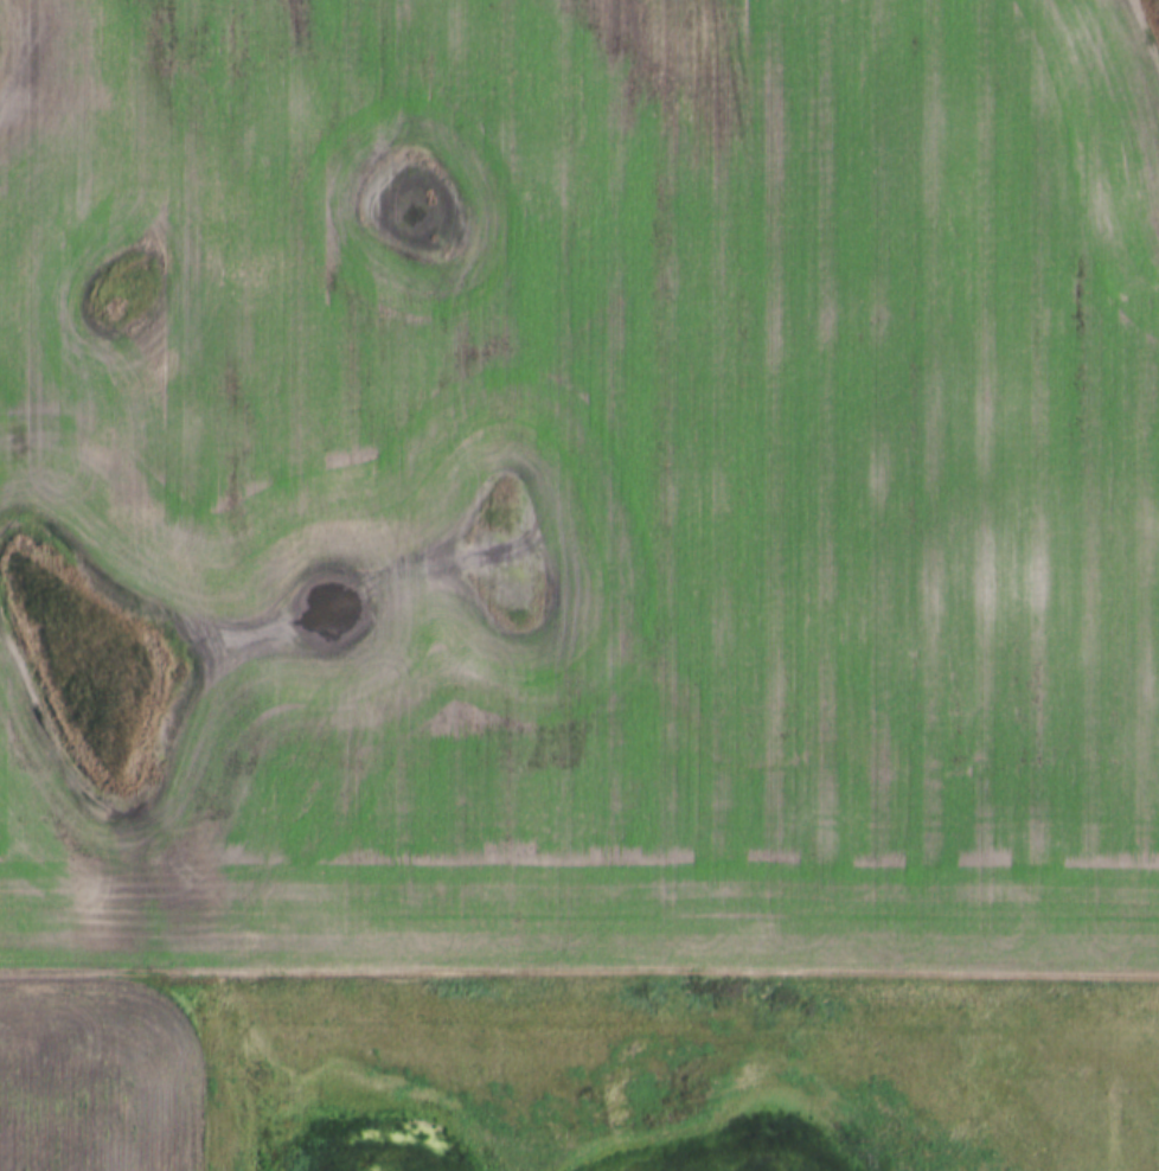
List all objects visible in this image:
road: (579, 970)

